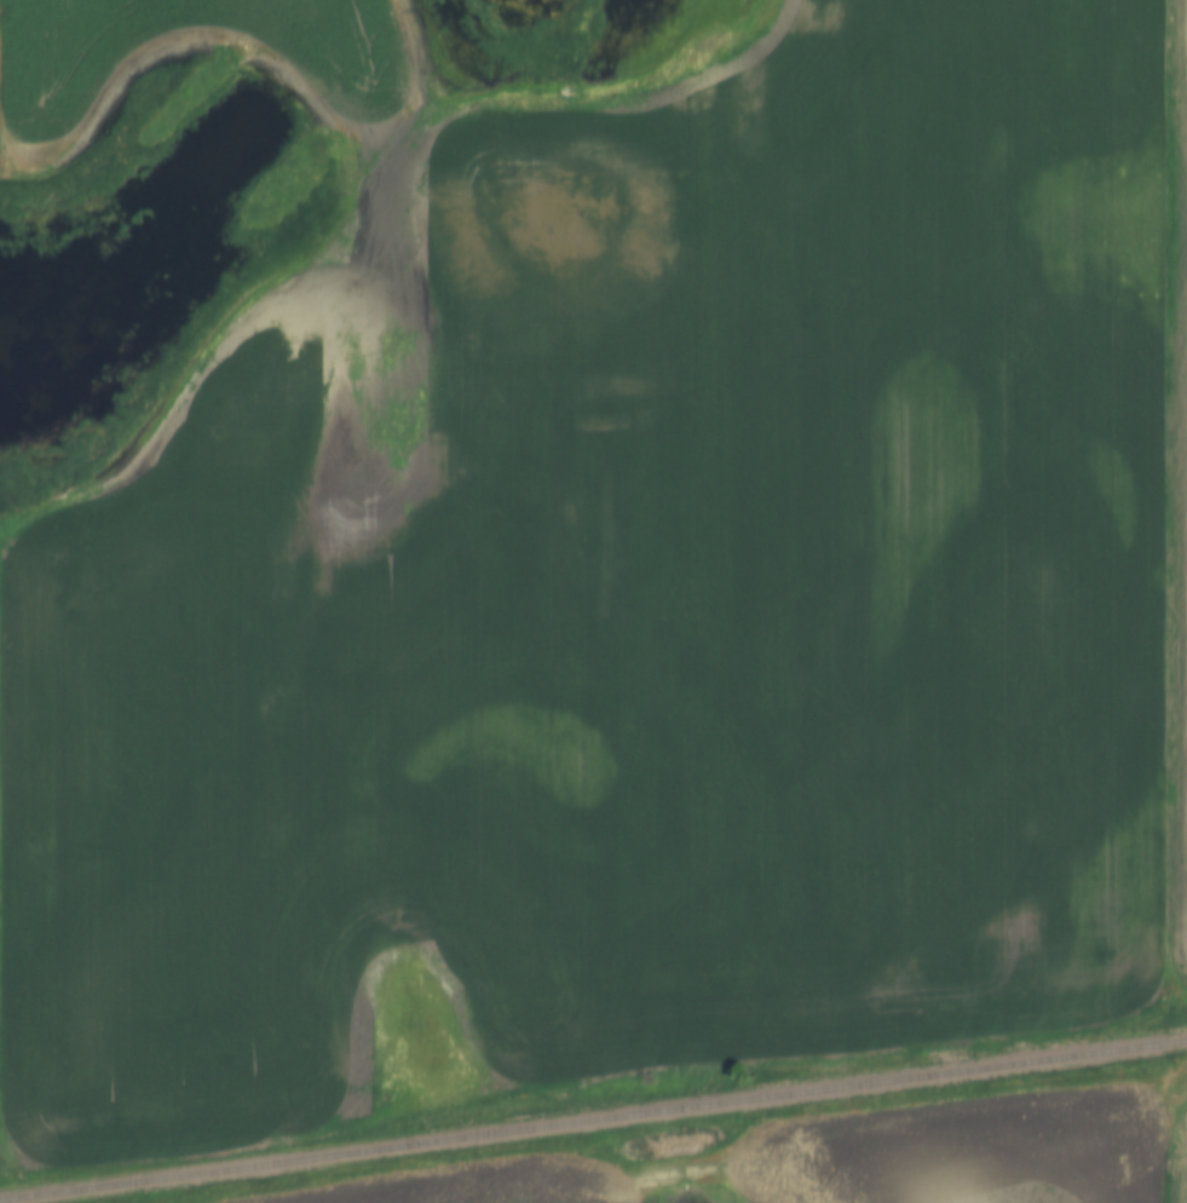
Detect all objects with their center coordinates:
railway: (593, 1121)

